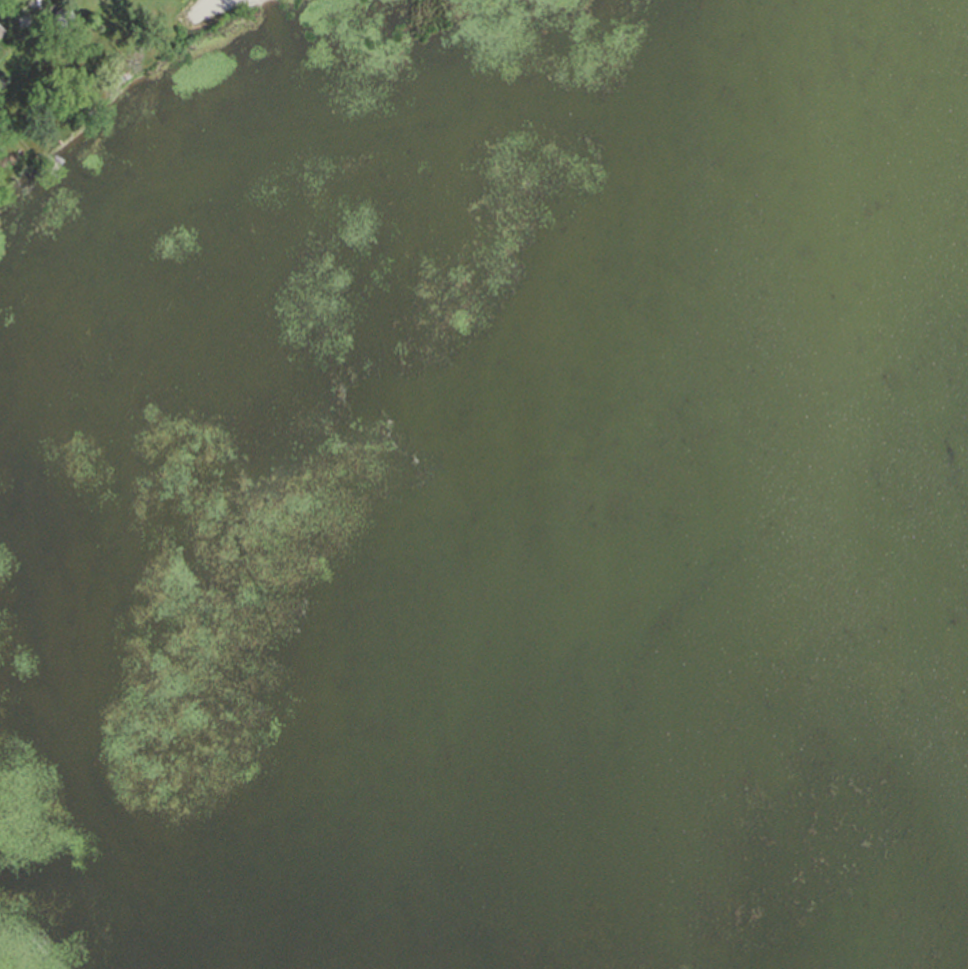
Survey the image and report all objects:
building: (58, 16)
building: (1, 29)

